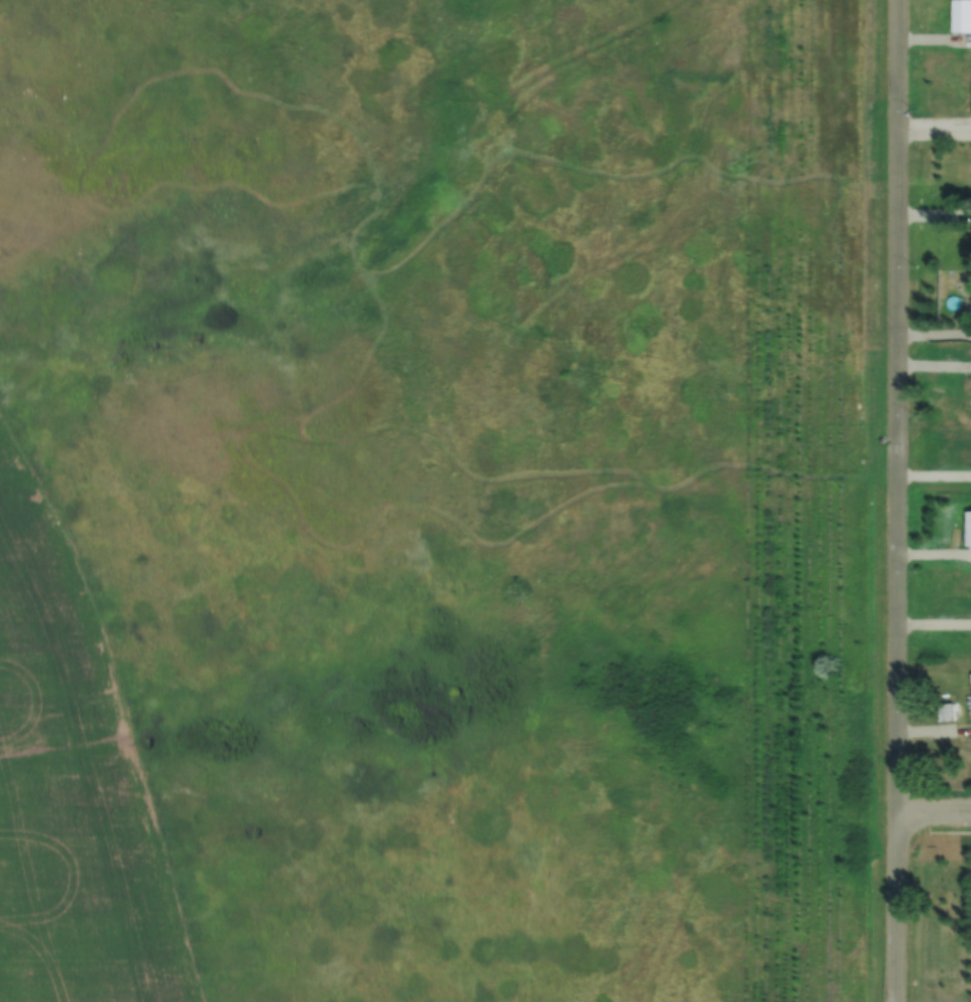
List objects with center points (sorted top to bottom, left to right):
building: (961, 15)
road: (934, 40)
road: (934, 128)
road: (935, 333)
road: (898, 500)
building: (968, 527)
building: (969, 693)
building: (944, 711)
crop: (71, 788)
road: (934, 811)

